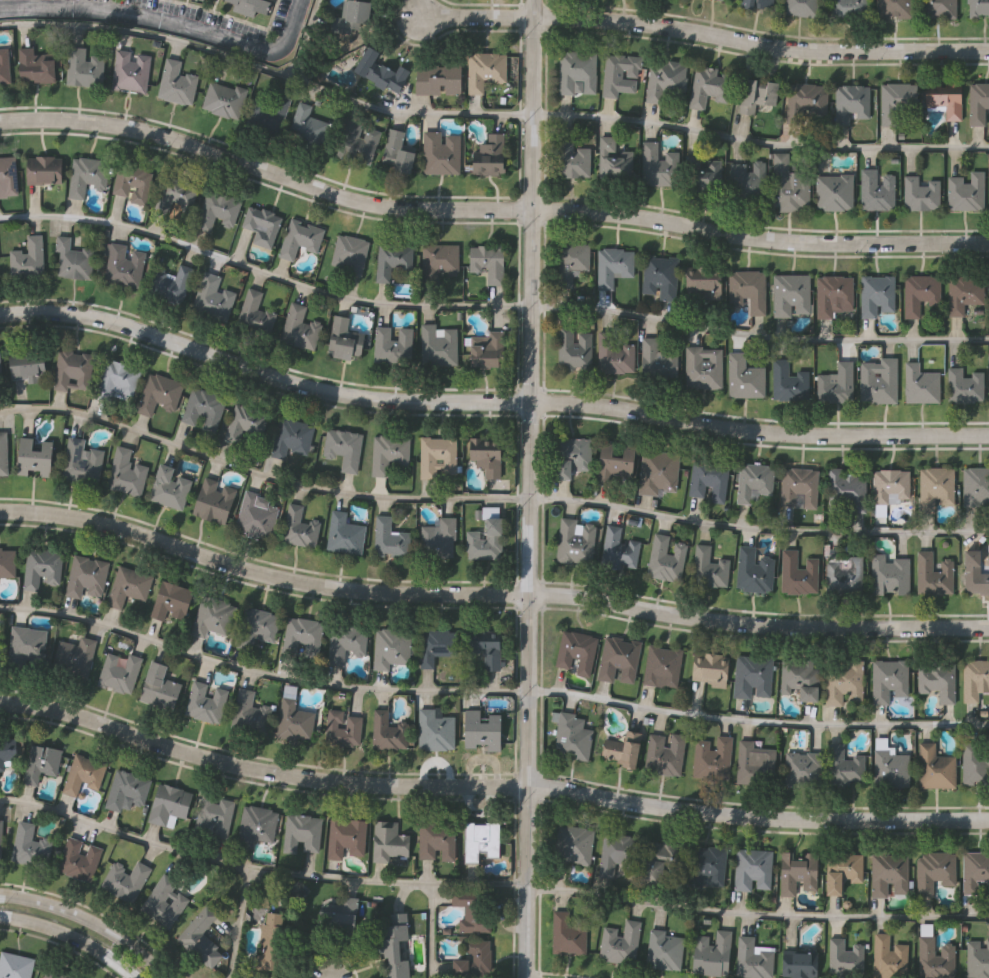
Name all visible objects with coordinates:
building: (206, 0)
building: (727, 0)
building: (756, 3)
building: (251, 6)
building: (799, 7)
building: (848, 7)
building: (893, 8)
building: (938, 8)
building: (357, 11)
road: (476, 17)
road: (168, 27)
road: (760, 43)
road: (183, 49)
building: (4, 65)
building: (34, 66)
building: (83, 67)
building: (376, 69)
building: (484, 69)
building: (130, 70)
building: (576, 70)
building: (620, 74)
building: (438, 76)
building: (176, 82)
building: (665, 83)
building: (707, 86)
building: (757, 94)
building: (222, 98)
building: (944, 98)
building: (895, 100)
building: (978, 101)
building: (806, 102)
building: (850, 102)
building: (273, 112)
building: (307, 124)
road: (693, 133)
building: (362, 143)
building: (395, 152)
building: (440, 152)
building: (490, 153)
building: (571, 158)
building: (612, 159)
building: (657, 164)
building: (44, 169)
building: (704, 172)
building: (85, 174)
building: (7, 175)
building: (747, 180)
building: (130, 182)
building: (787, 185)
building: (875, 189)
building: (964, 190)
building: (833, 191)
building: (920, 192)
building: (175, 196)
building: (216, 209)
road: (489, 210)
building: (260, 225)
building: (299, 237)
building: (348, 253)
building: (26, 256)
building: (391, 258)
building: (72, 259)
building: (438, 260)
building: (570, 260)
building: (487, 261)
building: (122, 265)
building: (613, 265)
building: (659, 275)
building: (703, 280)
building: (174, 284)
building: (747, 289)
building: (919, 292)
building: (962, 293)
building: (790, 294)
building: (832, 294)
building: (876, 295)
building: (211, 297)
road: (489, 306)
building: (253, 312)
building: (298, 327)
building: (343, 338)
building: (392, 344)
building: (437, 344)
building: (573, 347)
building: (486, 349)
building: (613, 353)
building: (657, 358)
building: (26, 363)
building: (702, 366)
building: (72, 369)
building: (0, 373)
building: (743, 376)
building: (115, 378)
building: (877, 380)
building: (789, 382)
building: (835, 383)
building: (919, 384)
building: (965, 385)
building: (157, 393)
road: (489, 402)
building: (202, 408)
building: (244, 427)
building: (292, 437)
building: (343, 447)
building: (3, 452)
building: (388, 453)
building: (570, 455)
building: (437, 456)
building: (33, 457)
building: (486, 460)
building: (81, 461)
building: (614, 464)
building: (658, 471)
building: (125, 472)
building: (707, 478)
building: (753, 480)
building: (975, 484)
building: (890, 485)
building: (936, 485)
building: (797, 486)
building: (169, 487)
road: (531, 488)
building: (845, 489)
road: (489, 498)
building: (213, 500)
building: (255, 517)
building: (298, 526)
building: (343, 534)
building: (389, 537)
building: (438, 538)
building: (485, 539)
building: (574, 540)
building: (618, 547)
building: (664, 557)
building: (41, 567)
building: (707, 567)
building: (752, 569)
building: (797, 571)
building: (974, 573)
building: (843, 574)
building: (888, 574)
building: (932, 574)
building: (86, 576)
building: (128, 585)
road: (490, 594)
building: (170, 600)
building: (211, 616)
building: (256, 626)
building: (302, 632)
building: (344, 642)
building: (27, 643)
building: (434, 645)
building: (390, 646)
building: (575, 651)
building: (482, 653)
building: (74, 657)
building: (618, 659)
building: (661, 666)
building: (709, 668)
building: (118, 671)
building: (751, 676)
building: (799, 677)
building: (974, 678)
building: (888, 679)
building: (936, 679)
building: (842, 681)
building: (160, 688)
road: (490, 693)
building: (206, 704)
building: (252, 712)
building: (294, 723)
building: (484, 727)
building: (342, 728)
building: (434, 728)
building: (388, 731)
building: (570, 733)
building: (620, 749)
building: (664, 752)
building: (712, 757)
building: (41, 761)
building: (753, 762)
building: (975, 762)
building: (842, 763)
building: (889, 767)
building: (934, 767)
building: (801, 768)
building: (82, 776)
road: (490, 786)
building: (127, 789)
building: (168, 803)
building: (213, 813)
building: (255, 824)
building: (301, 832)
building: (346, 837)
building: (436, 840)
building: (480, 840)
building: (388, 841)
building: (2, 842)
building: (573, 843)
building: (31, 845)
building: (637, 857)
building: (78, 858)
building: (705, 864)
building: (751, 869)
building: (974, 869)
building: (844, 870)
building: (933, 870)
road: (252, 871)
building: (797, 871)
building: (888, 874)
building: (124, 879)
road: (475, 885)
building: (163, 901)
building: (470, 908)
road: (757, 914)
road: (90, 920)
road: (236, 924)
building: (368, 929)
building: (566, 933)
building: (200, 937)
building: (273, 939)
road: (71, 940)
building: (619, 941)
building: (663, 948)
building: (711, 952)
building: (888, 956)
building: (844, 957)
building: (934, 957)
building: (977, 957)
building: (751, 958)
building: (472, 959)
building: (799, 963)
building: (14, 965)
building: (55, 973)

